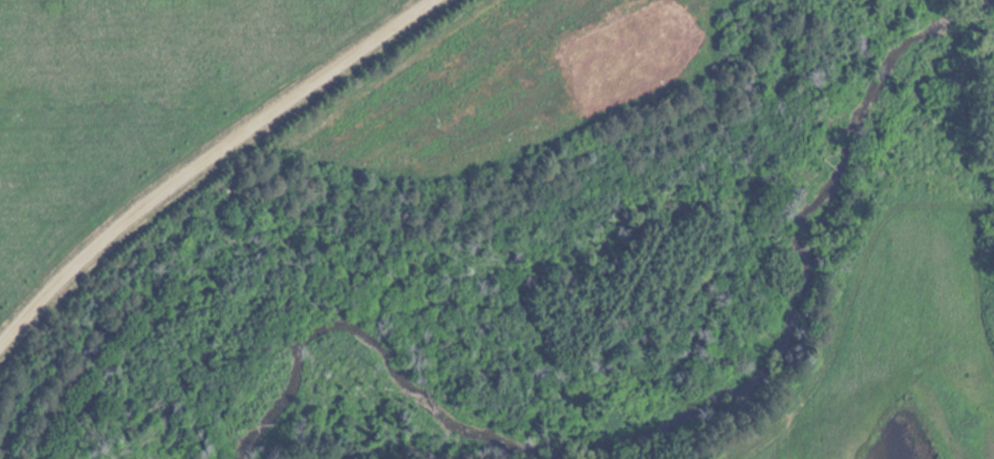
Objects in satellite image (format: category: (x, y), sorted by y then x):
road: (199, 153)
river: (675, 421)

